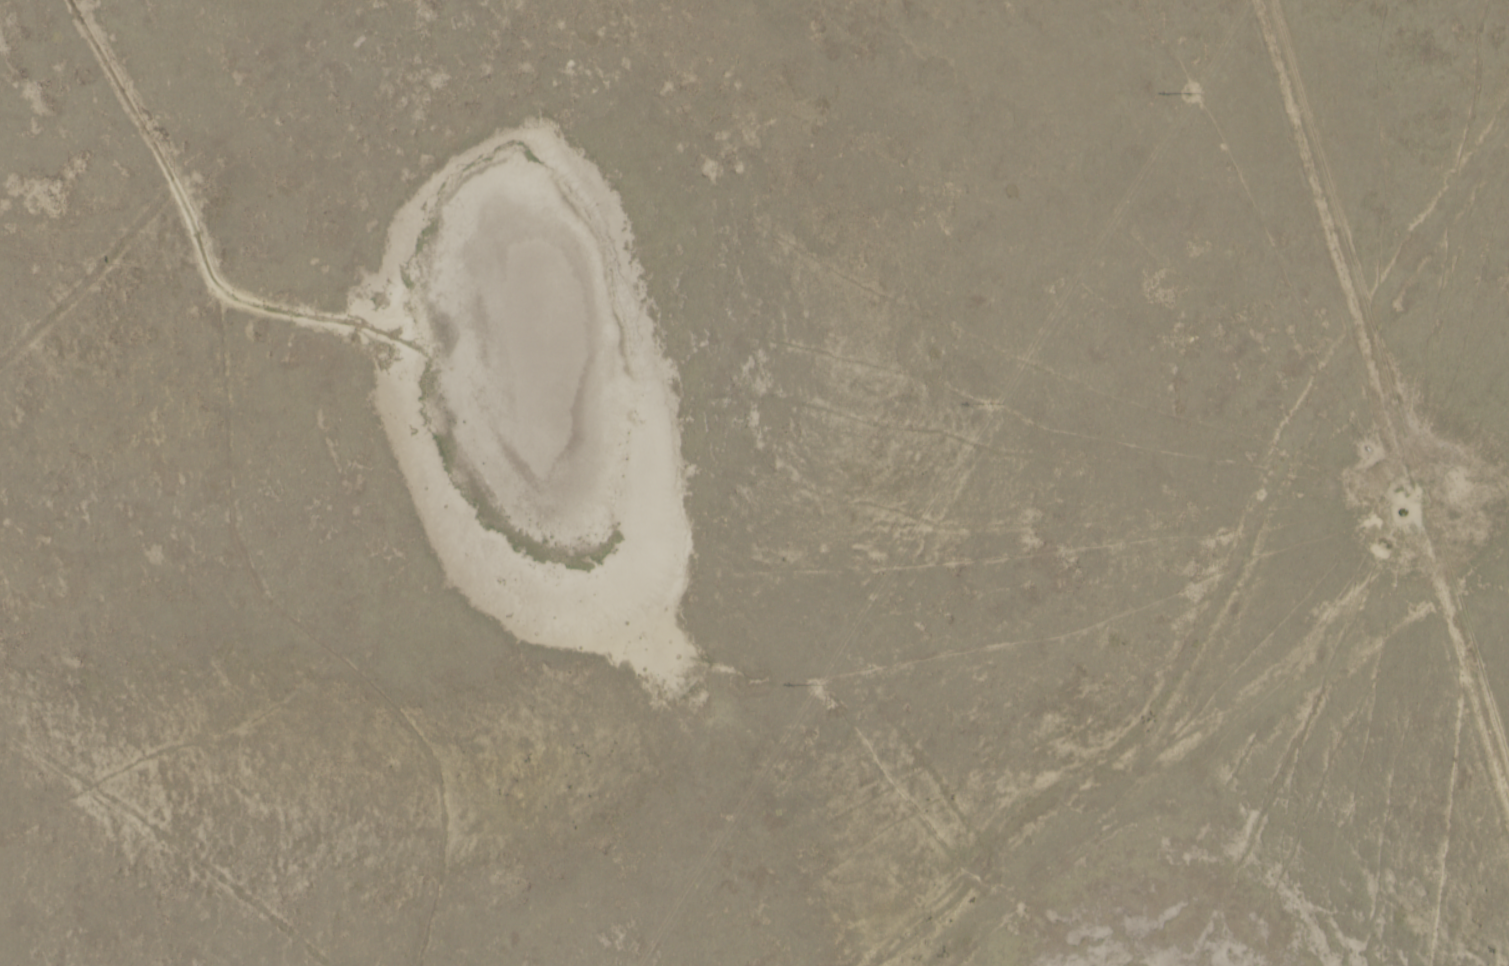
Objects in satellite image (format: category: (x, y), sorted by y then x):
road: (1379, 413)
road: (134, 846)

